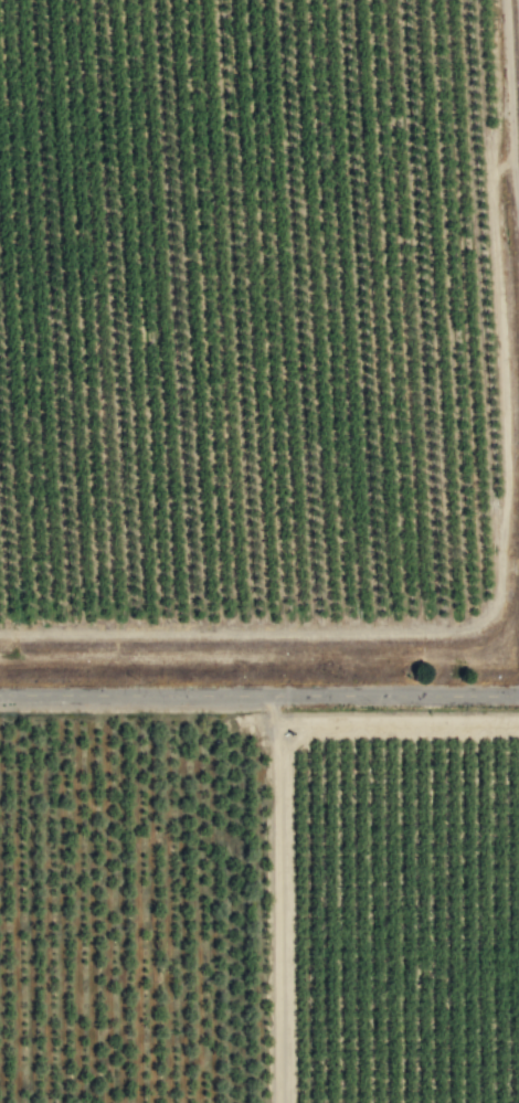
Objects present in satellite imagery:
road: (259, 693)

